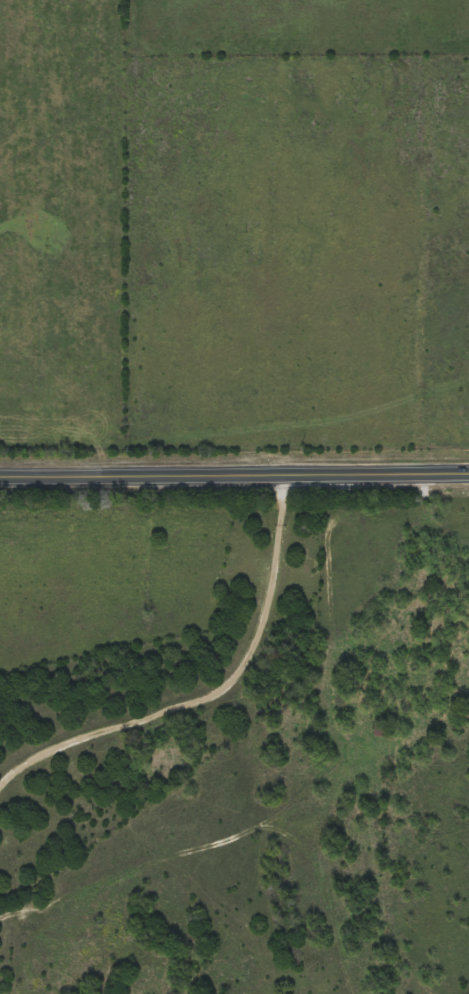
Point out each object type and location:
road: (234, 472)
road: (404, 687)
road: (215, 690)
building: (382, 728)

